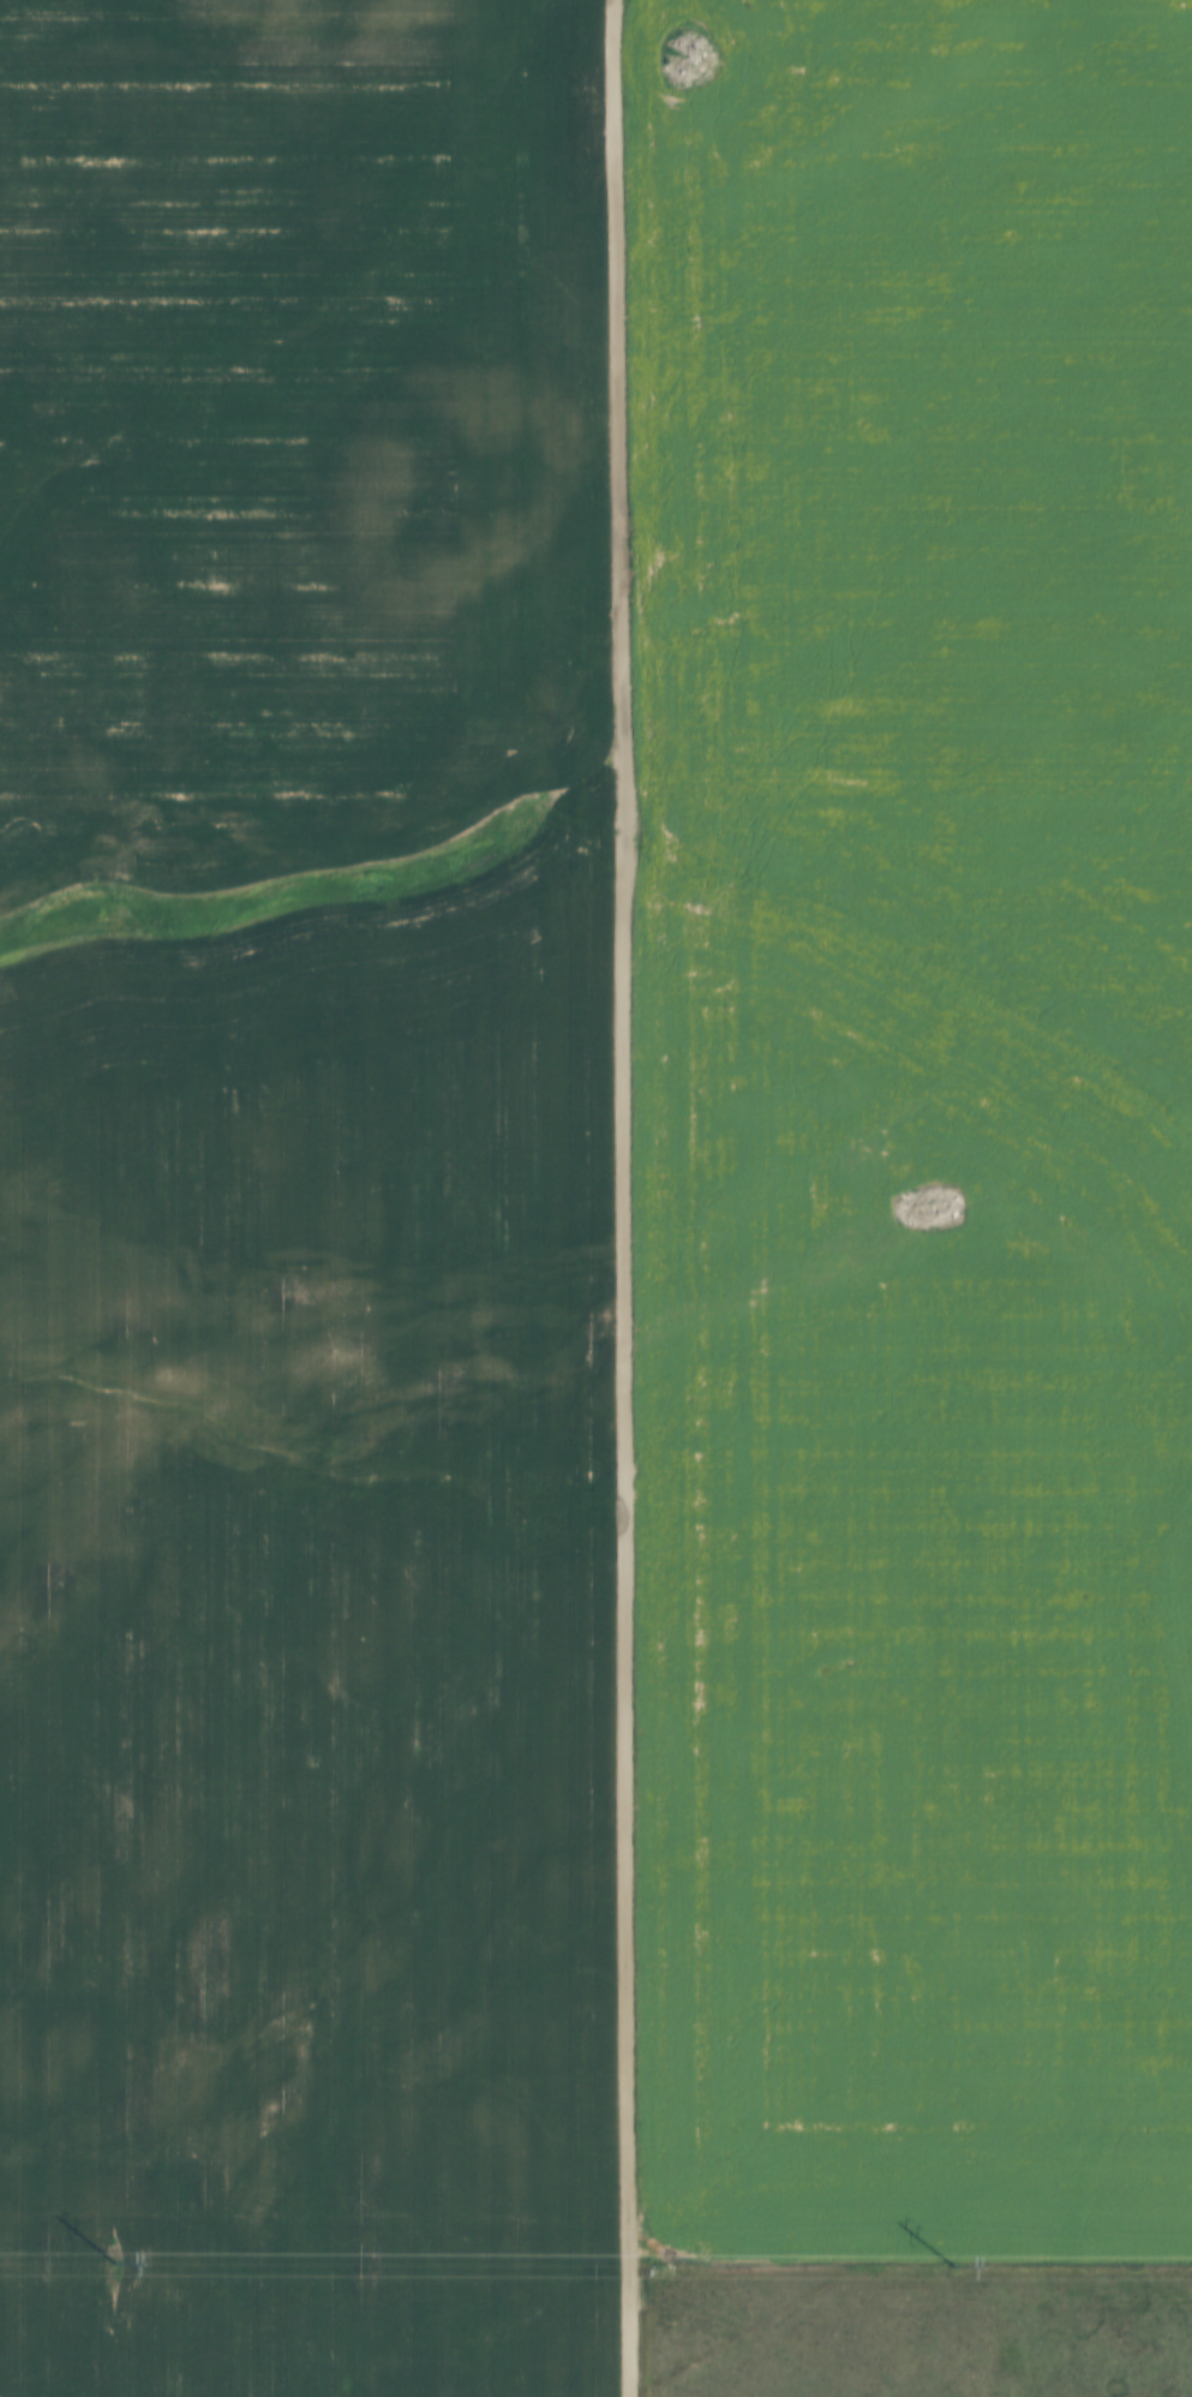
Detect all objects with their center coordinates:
road: (627, 1197)
power tower: (112, 2262)
power tower: (951, 2265)

